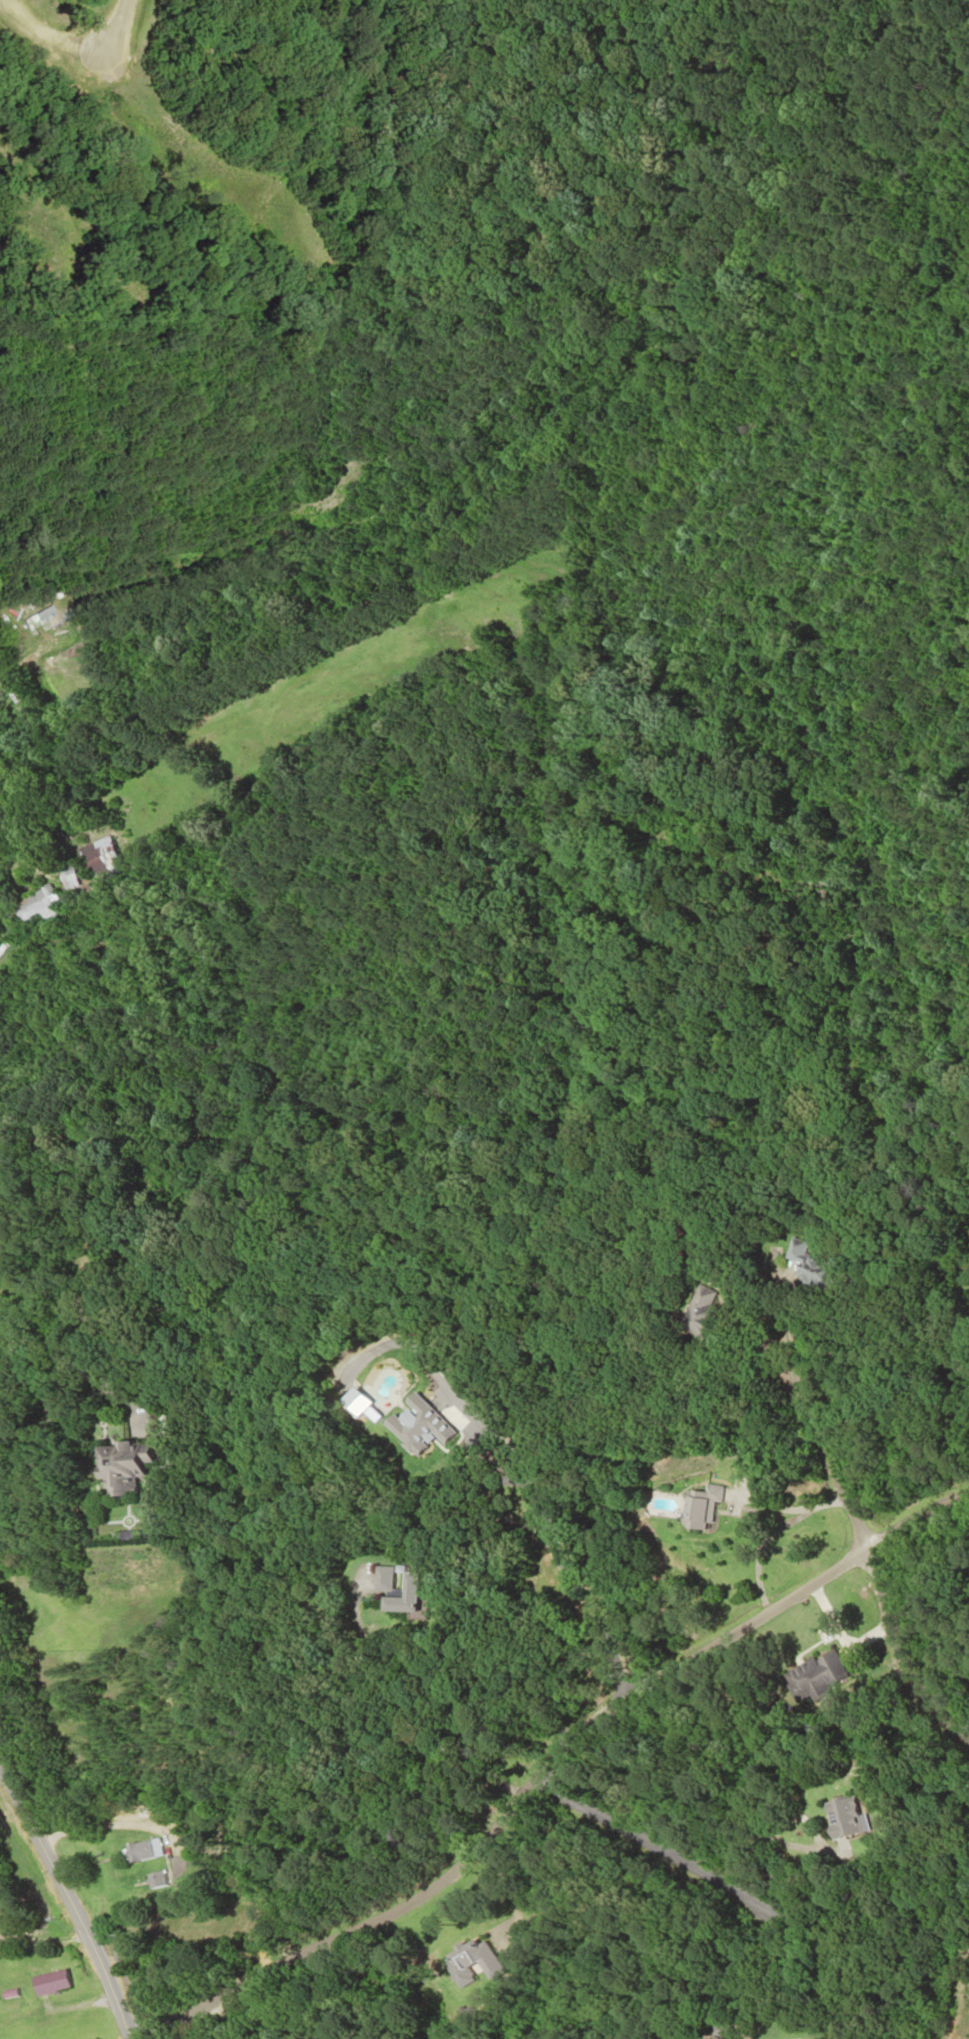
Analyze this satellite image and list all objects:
road: (135, 25)
building: (97, 860)
building: (64, 876)
building: (32, 906)
building: (809, 1266)
building: (697, 1313)
building: (158, 1422)
road: (821, 1457)
building: (119, 1465)
building: (696, 1507)
building: (381, 1579)
building: (400, 1596)
road: (896, 1658)
building: (806, 1680)
road: (545, 1762)
building: (149, 1811)
building: (836, 1817)
building: (144, 1851)
road: (673, 1863)
road: (68, 1901)
building: (470, 1962)
building: (48, 1983)

